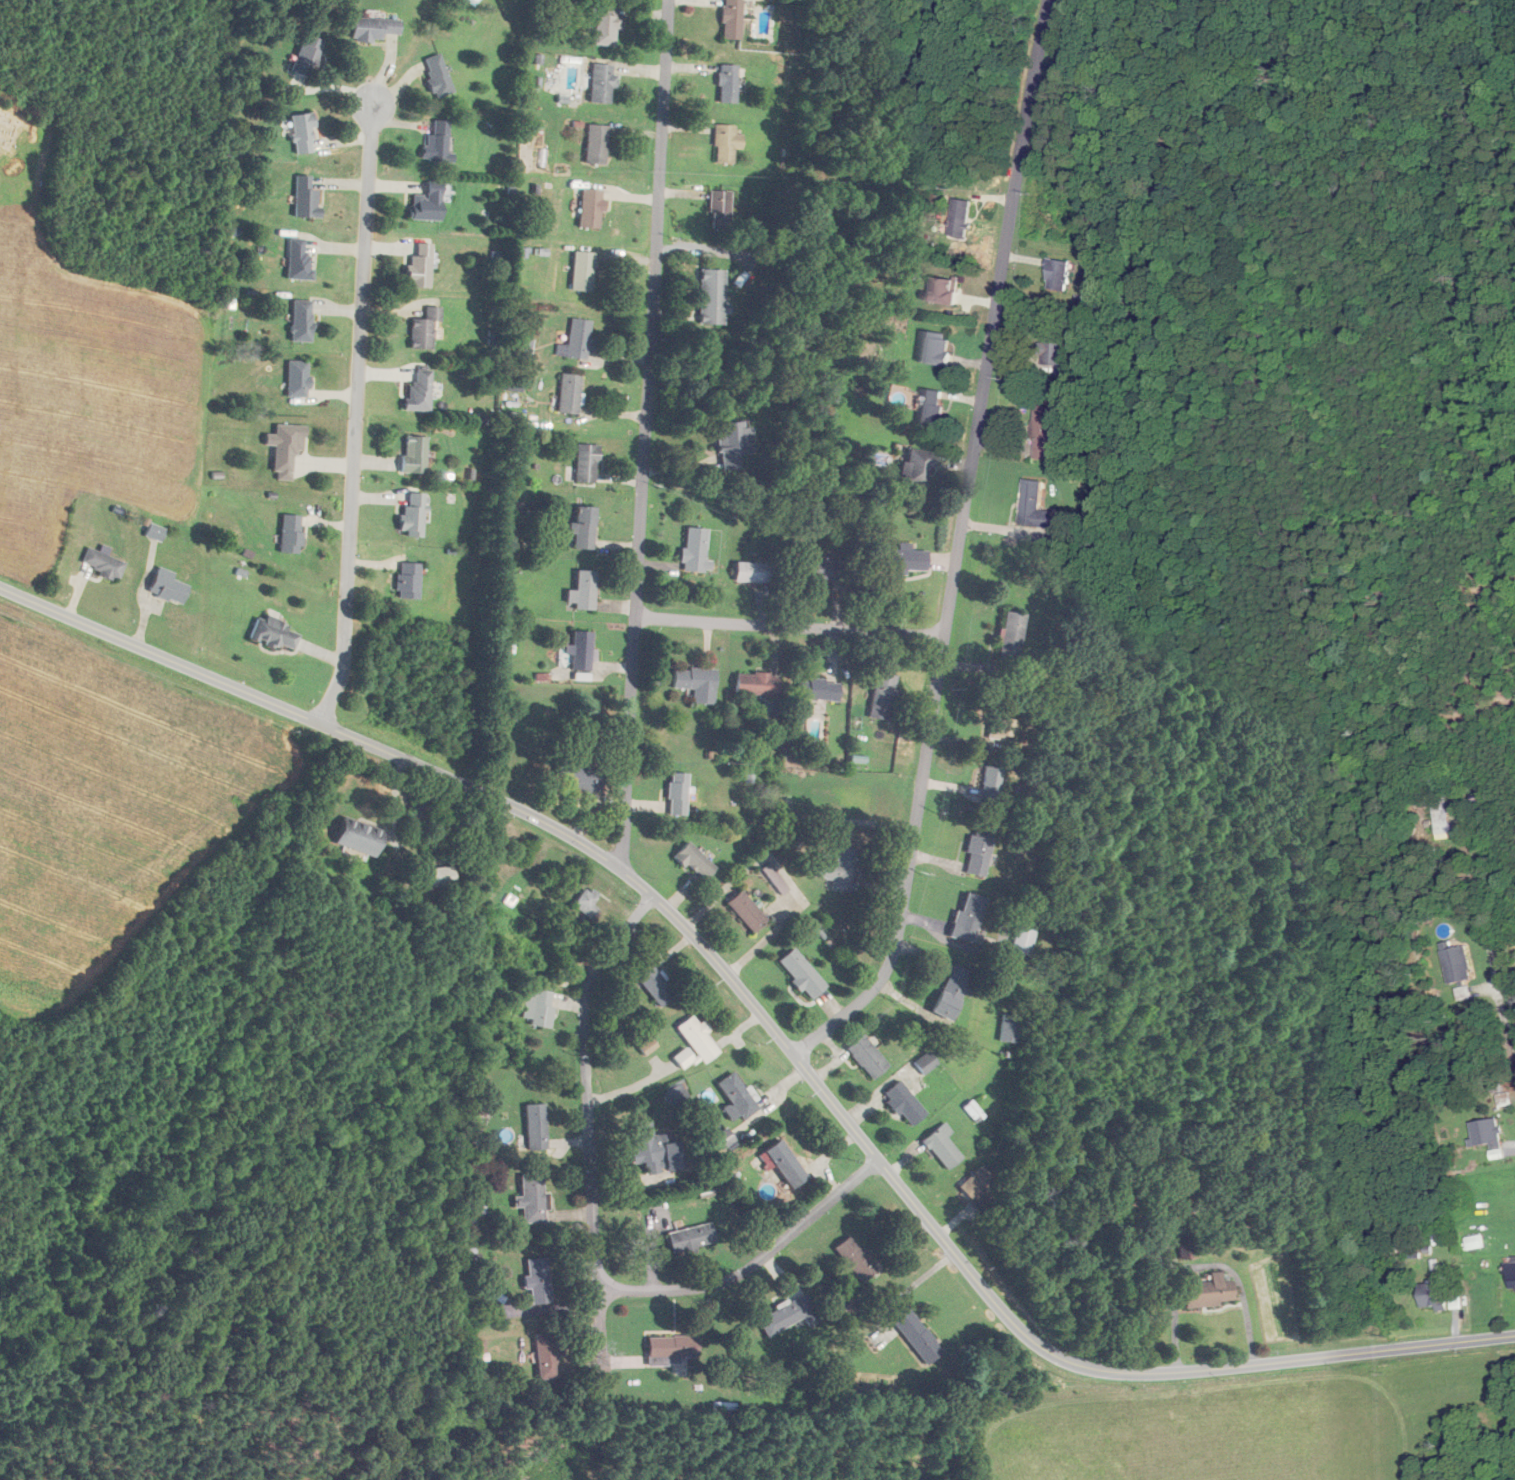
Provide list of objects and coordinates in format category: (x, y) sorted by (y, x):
building: (731, 19)
building: (606, 25)
building: (373, 28)
building: (307, 55)
building: (437, 75)
building: (601, 83)
building: (727, 83)
building: (302, 132)
building: (437, 141)
building: (726, 143)
building: (596, 144)
building: (305, 197)
building: (427, 203)
building: (590, 208)
building: (719, 209)
building: (959, 218)
building: (298, 260)
building: (420, 267)
building: (582, 271)
building: (1058, 275)
building: (945, 290)
building: (711, 296)
building: (301, 320)
building: (424, 328)
building: (579, 338)
building: (1053, 345)
building: (935, 348)
building: (297, 378)
building: (419, 389)
building: (569, 393)
building: (930, 409)
road: (357, 412)
building: (1044, 432)
road: (647, 433)
building: (733, 443)
building: (285, 447)
building: (414, 453)
building: (587, 463)
building: (917, 467)
building: (1034, 505)
building: (413, 514)
building: (584, 527)
building: (155, 531)
building: (290, 533)
road: (959, 547)
building: (695, 550)
building: (899, 558)
building: (102, 562)
building: (820, 569)
building: (753, 572)
building: (408, 580)
building: (167, 586)
building: (584, 590)
road: (790, 626)
building: (274, 633)
building: (1011, 635)
building: (582, 650)
building: (697, 683)
building: (757, 683)
building: (819, 689)
building: (883, 696)
building: (1001, 726)
building: (581, 773)
building: (991, 782)
building: (678, 794)
building: (1440, 809)
building: (424, 812)
building: (358, 836)
building: (979, 850)
building: (695, 861)
building: (839, 869)
building: (441, 876)
building: (586, 904)
building: (747, 911)
building: (968, 918)
building: (1023, 940)
road: (1491, 940)
building: (1457, 964)
building: (802, 973)
building: (655, 985)
building: (953, 992)
building: (539, 1007)
road: (770, 1025)
building: (1009, 1027)
building: (698, 1038)
building: (867, 1056)
building: (683, 1058)
building: (925, 1062)
building: (677, 1092)
building: (738, 1095)
building: (904, 1103)
building: (973, 1110)
building: (536, 1126)
building: (1487, 1135)
building: (942, 1146)
building: (655, 1148)
building: (781, 1163)
building: (978, 1183)
building: (531, 1198)
road: (595, 1237)
building: (691, 1238)
building: (1475, 1243)
building: (855, 1259)
building: (1510, 1274)
building: (538, 1281)
building: (1209, 1292)
building: (1433, 1296)
building: (787, 1316)
building: (916, 1335)
road: (601, 1336)
building: (476, 1346)
building: (676, 1352)
building: (547, 1356)

